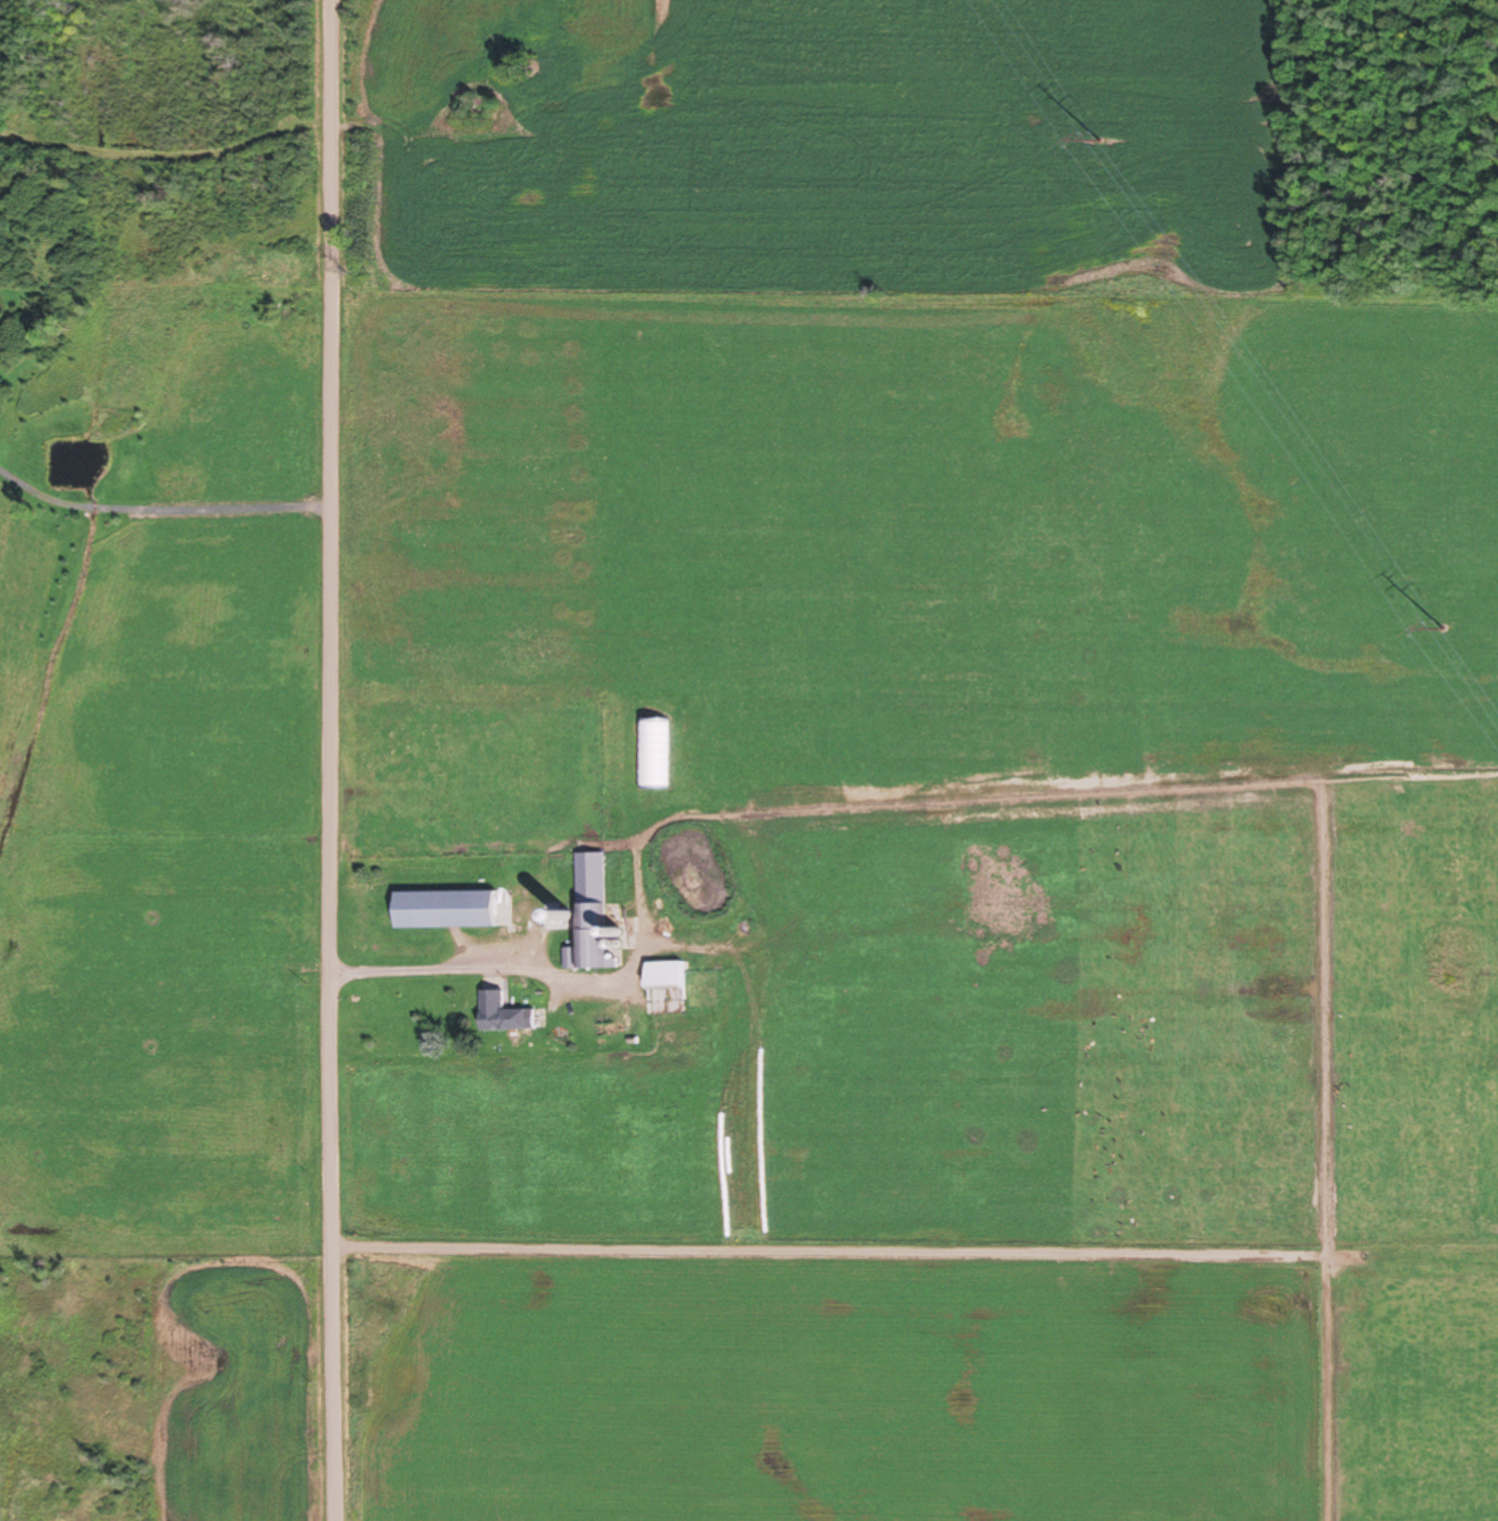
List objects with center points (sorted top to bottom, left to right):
power tower: (1099, 141)
power tower: (1443, 632)
building: (652, 755)
road: (349, 760)
building: (444, 911)
building: (588, 916)
building: (663, 977)
building: (502, 1015)

